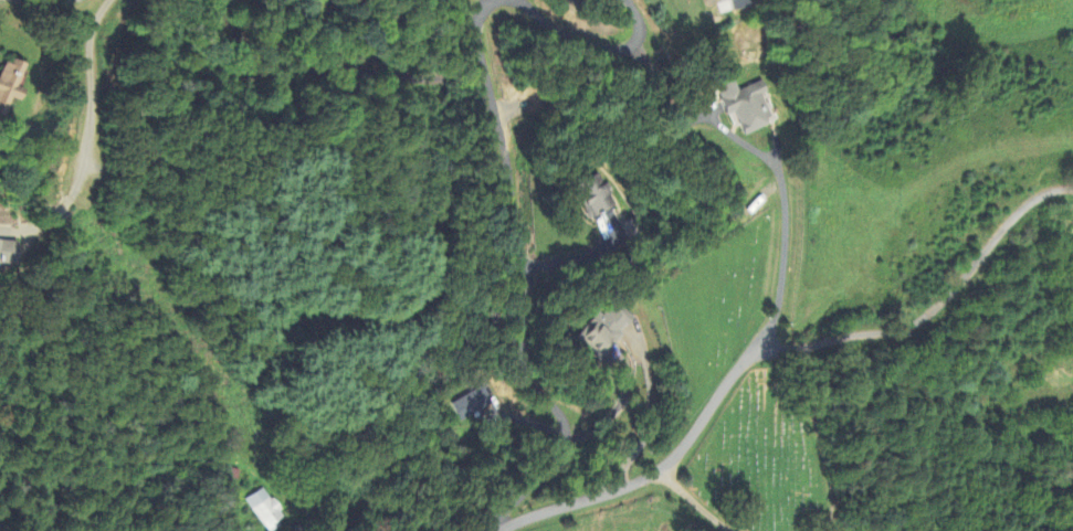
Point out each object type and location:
building: (734, 4)
road: (596, 50)
building: (8, 84)
building: (740, 105)
road: (87, 130)
road: (770, 160)
building: (590, 195)
building: (618, 229)
building: (6, 251)
road: (562, 259)
road: (524, 283)
park: (720, 302)
building: (601, 330)
road: (778, 347)
building: (469, 404)
road: (607, 415)
park: (760, 457)
road: (694, 505)
building: (265, 509)

